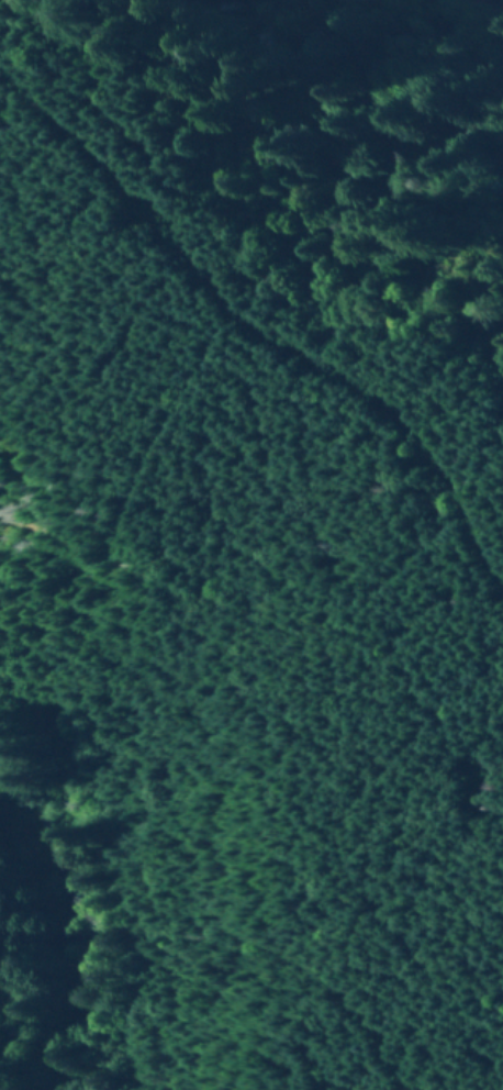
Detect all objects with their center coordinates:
railway: (456, 37)

